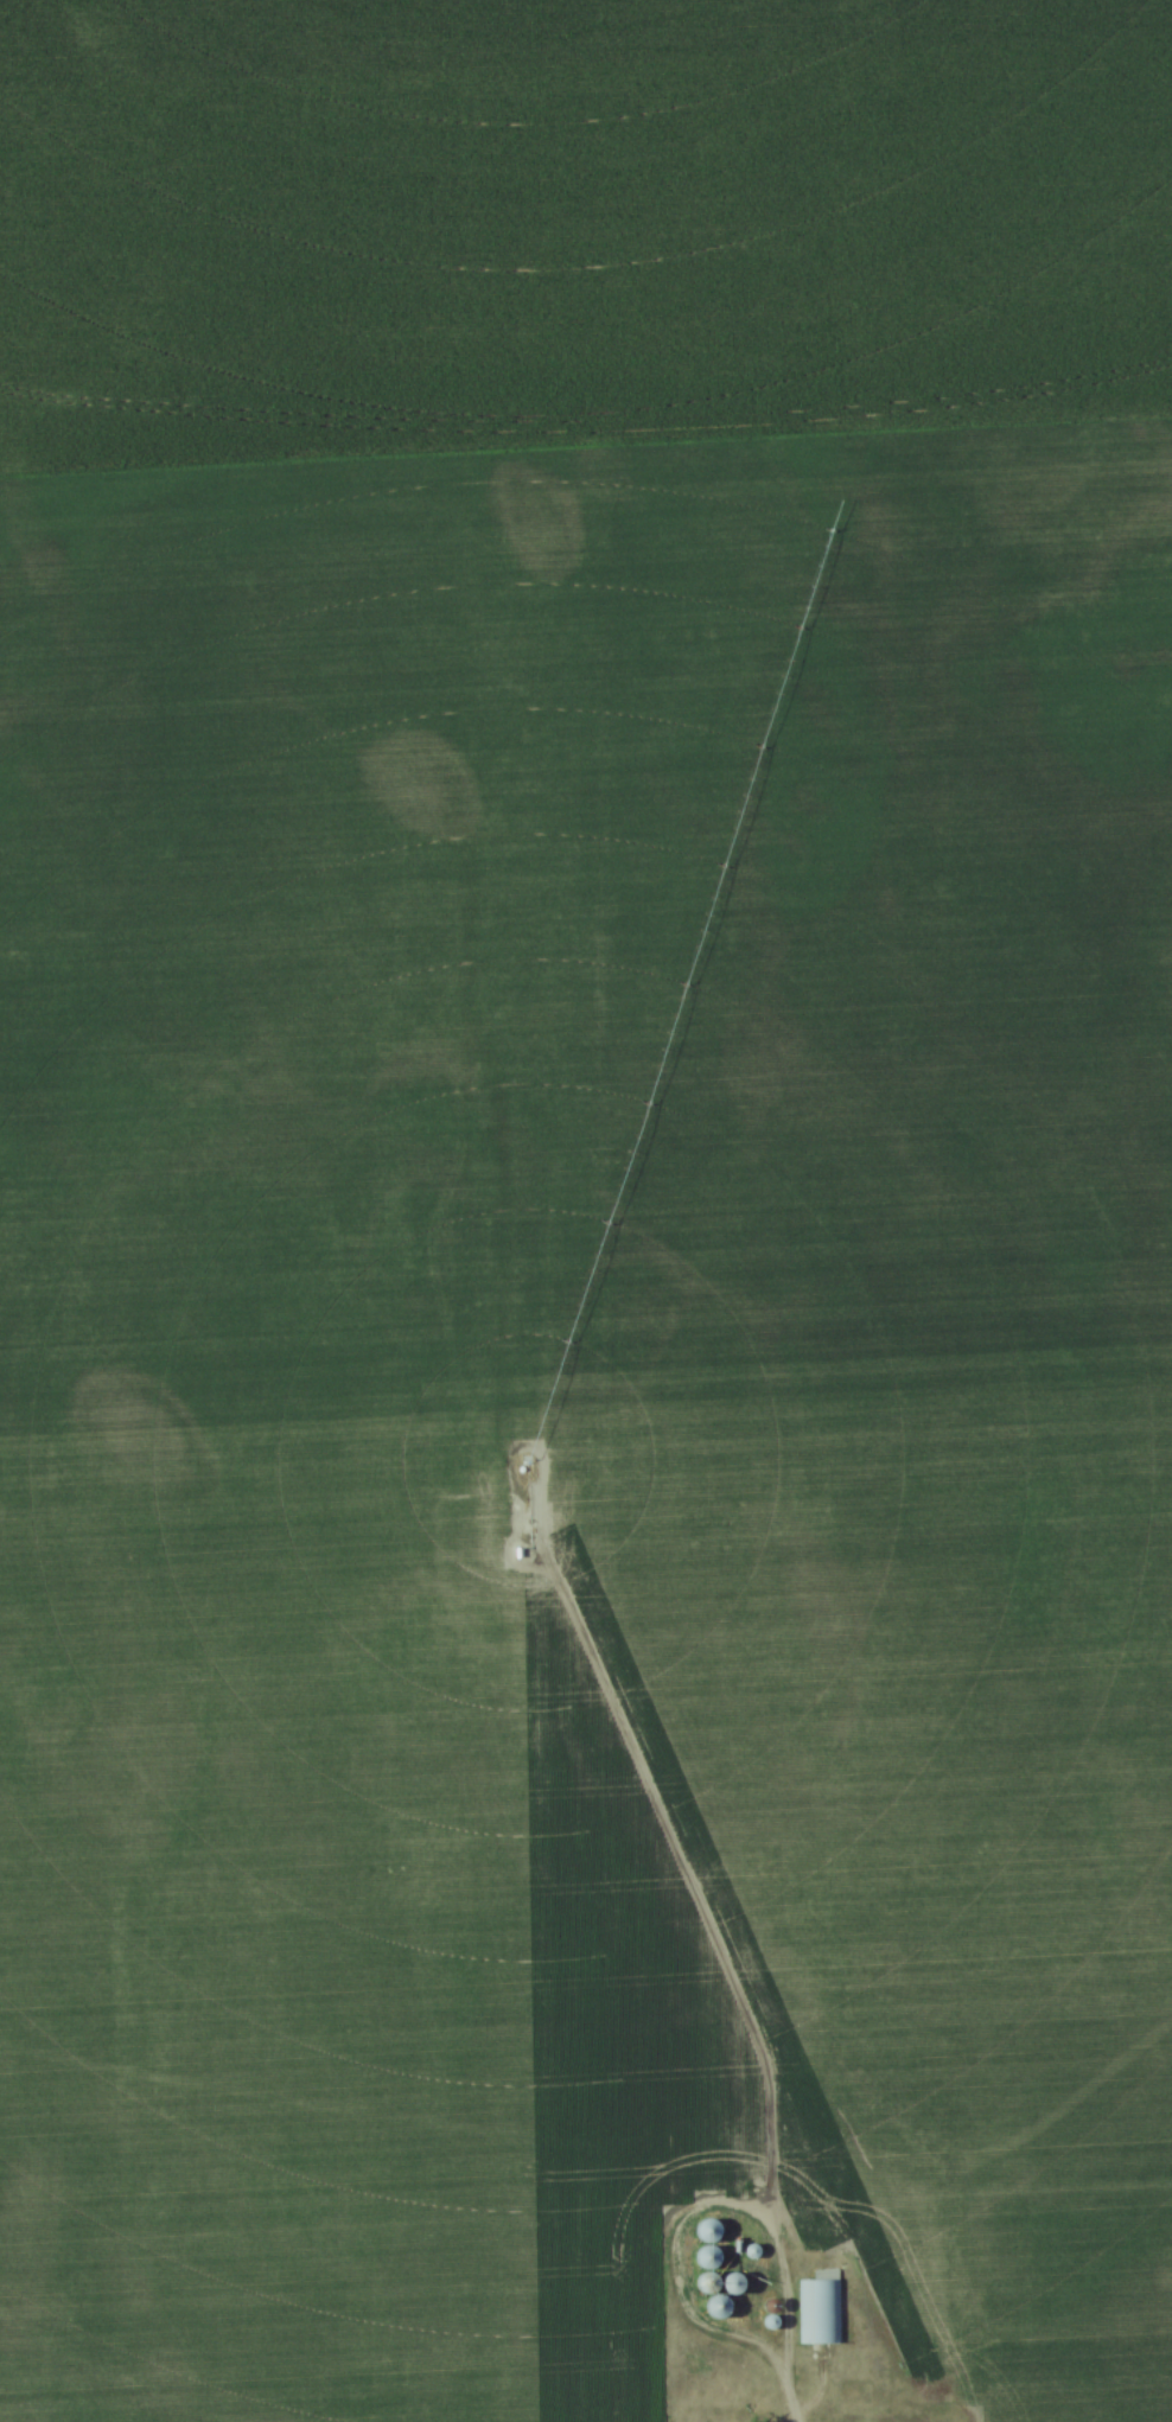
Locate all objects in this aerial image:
building: (711, 2244)
building: (821, 2305)

